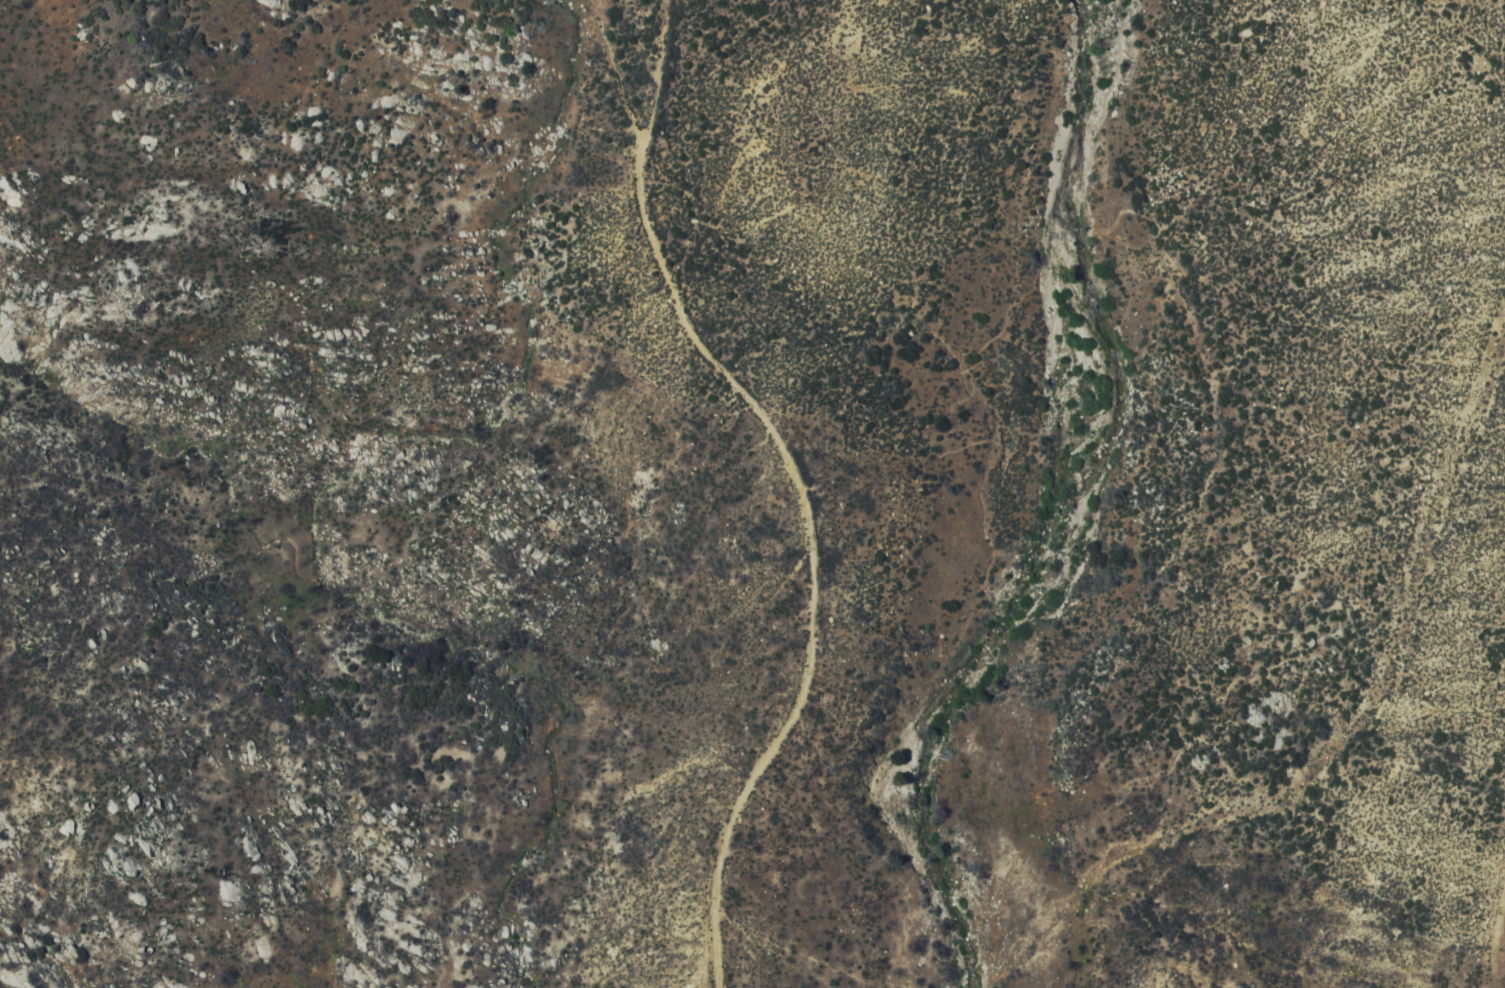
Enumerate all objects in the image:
road: (796, 477)

